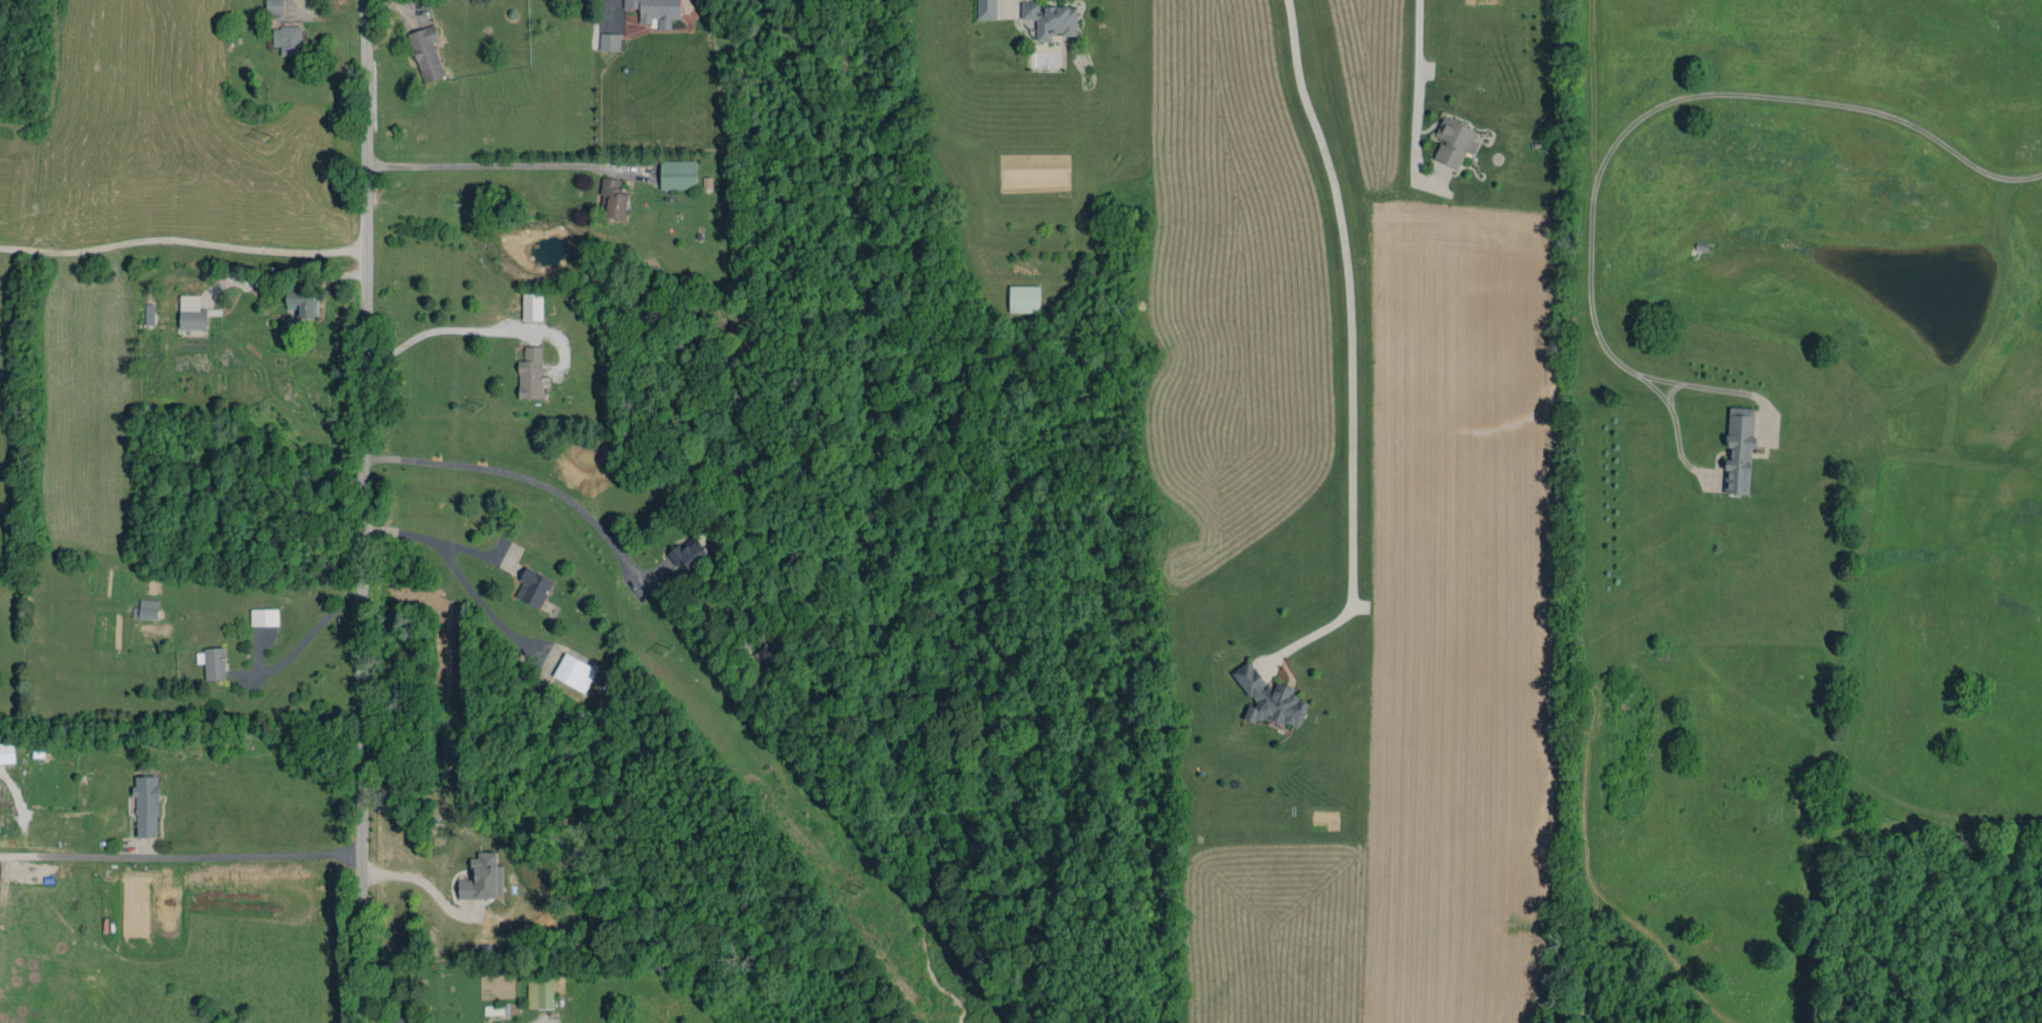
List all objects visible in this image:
building: (274, 7)
building: (987, 9)
road: (609, 10)
building: (656, 10)
building: (1050, 20)
building: (287, 40)
building: (609, 42)
building: (426, 52)
road: (1414, 93)
road: (1805, 100)
power tower: (265, 138)
building: (1454, 142)
road: (490, 166)
building: (678, 174)
building: (613, 199)
road: (183, 244)
road: (1589, 280)
building: (1024, 299)
building: (303, 303)
building: (532, 306)
building: (192, 313)
building: (149, 314)
road: (443, 329)
road: (1350, 342)
building: (531, 374)
road: (1669, 390)
power tower: (479, 410)
road: (1674, 424)
building: (1739, 450)
road: (523, 477)
road: (362, 511)
road: (431, 535)
building: (688, 555)
building: (534, 587)
building: (147, 609)
building: (264, 617)
power tower: (668, 654)
building: (769, 659)
building: (213, 663)
building: (574, 672)
building: (1269, 698)
building: (7, 753)
building: (146, 806)
road: (181, 858)
building: (484, 878)
road: (417, 881)
power tower: (861, 897)
building: (540, 990)
building: (494, 1010)
building: (401, 1020)

